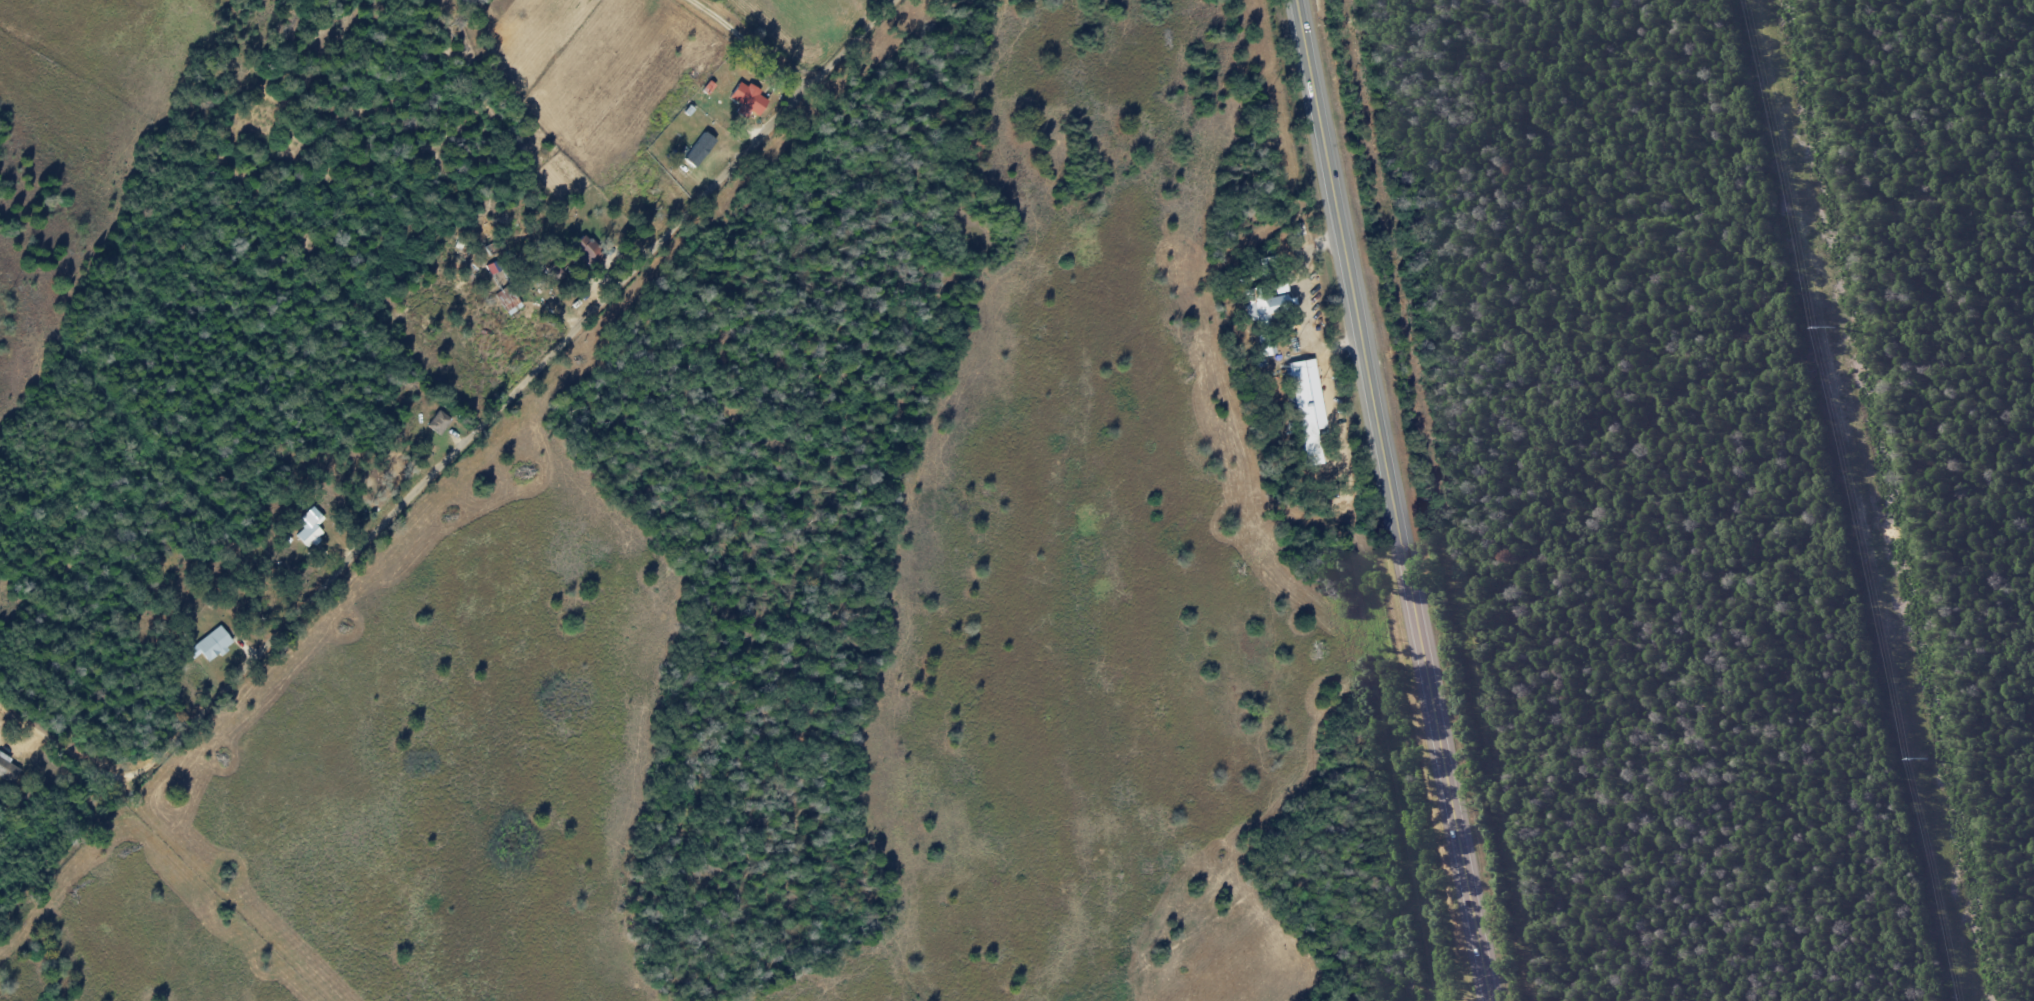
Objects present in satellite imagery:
road: (753, 43)
building: (748, 99)
building: (700, 149)
building: (588, 249)
building: (508, 300)
building: (1264, 306)
power tower: (1831, 327)
building: (1308, 408)
building: (439, 423)
road: (462, 447)
road: (1400, 500)
building: (310, 528)
building: (212, 645)
power tower: (1923, 758)
building: (9, 770)

